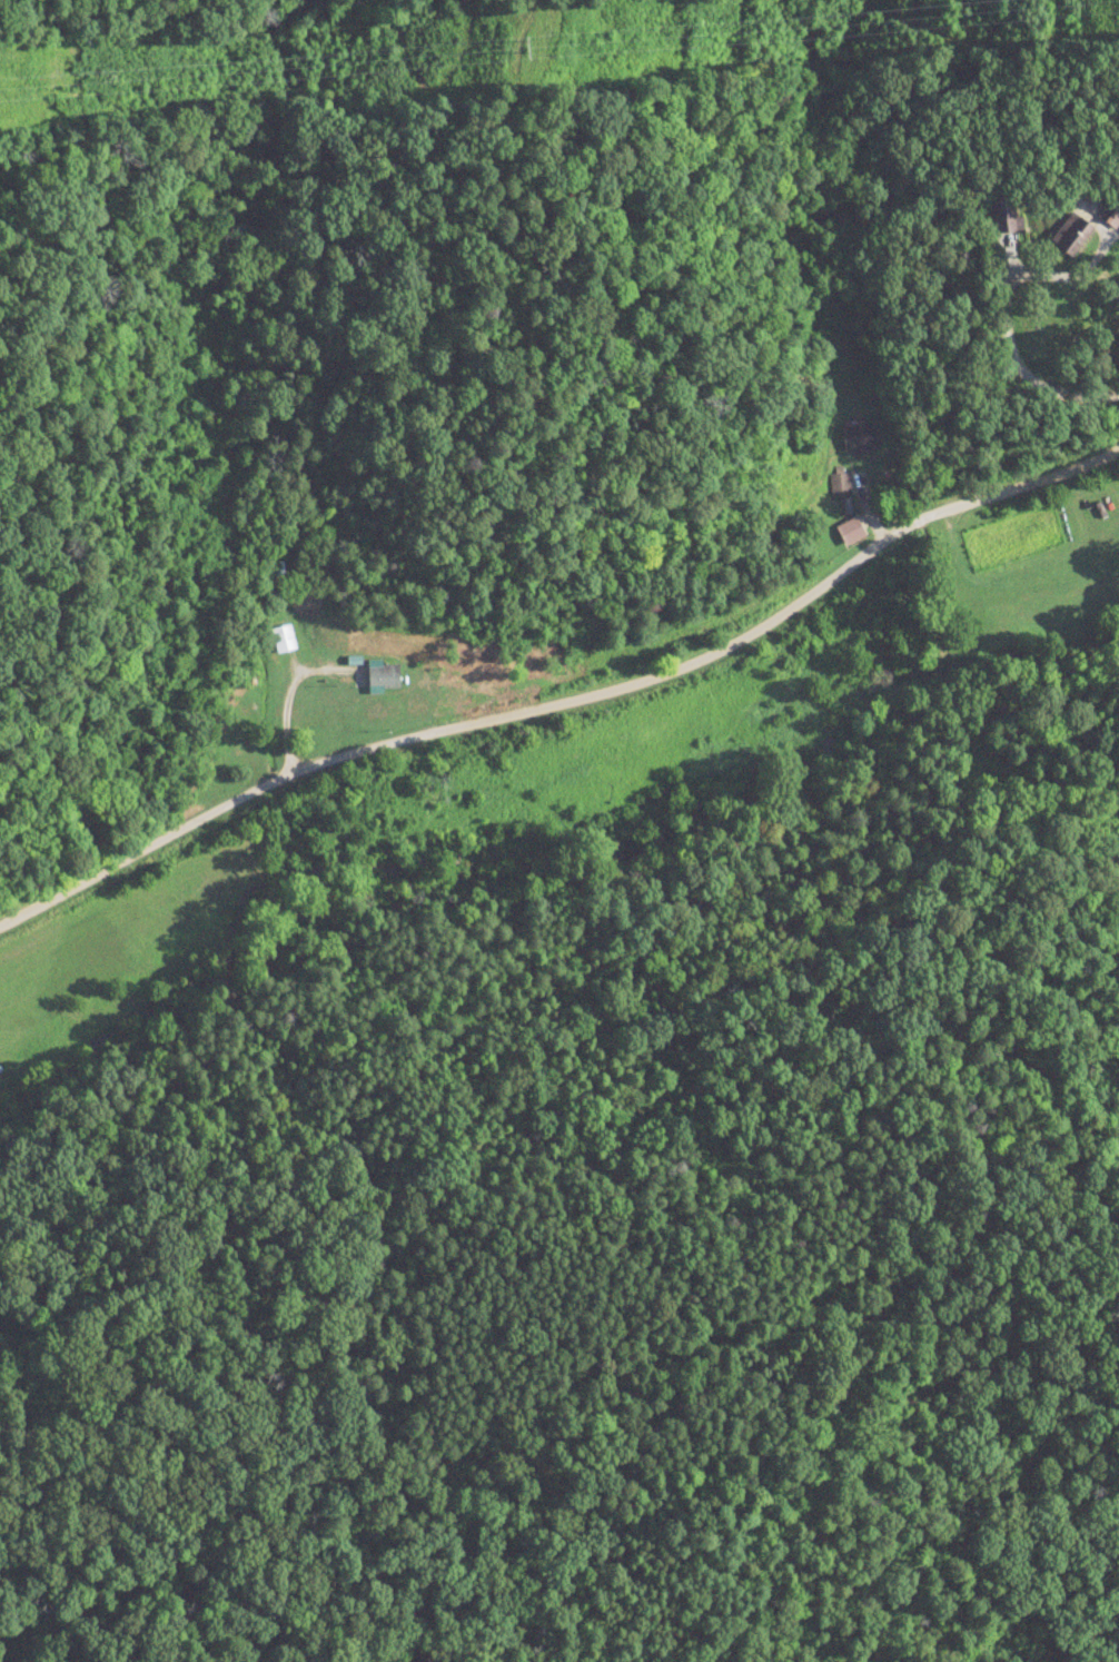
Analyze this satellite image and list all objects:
power tower: (527, 48)
building: (1007, 215)
building: (1113, 219)
road: (660, 363)
building: (861, 439)
building: (841, 482)
building: (284, 639)
building: (384, 676)
road: (567, 700)

